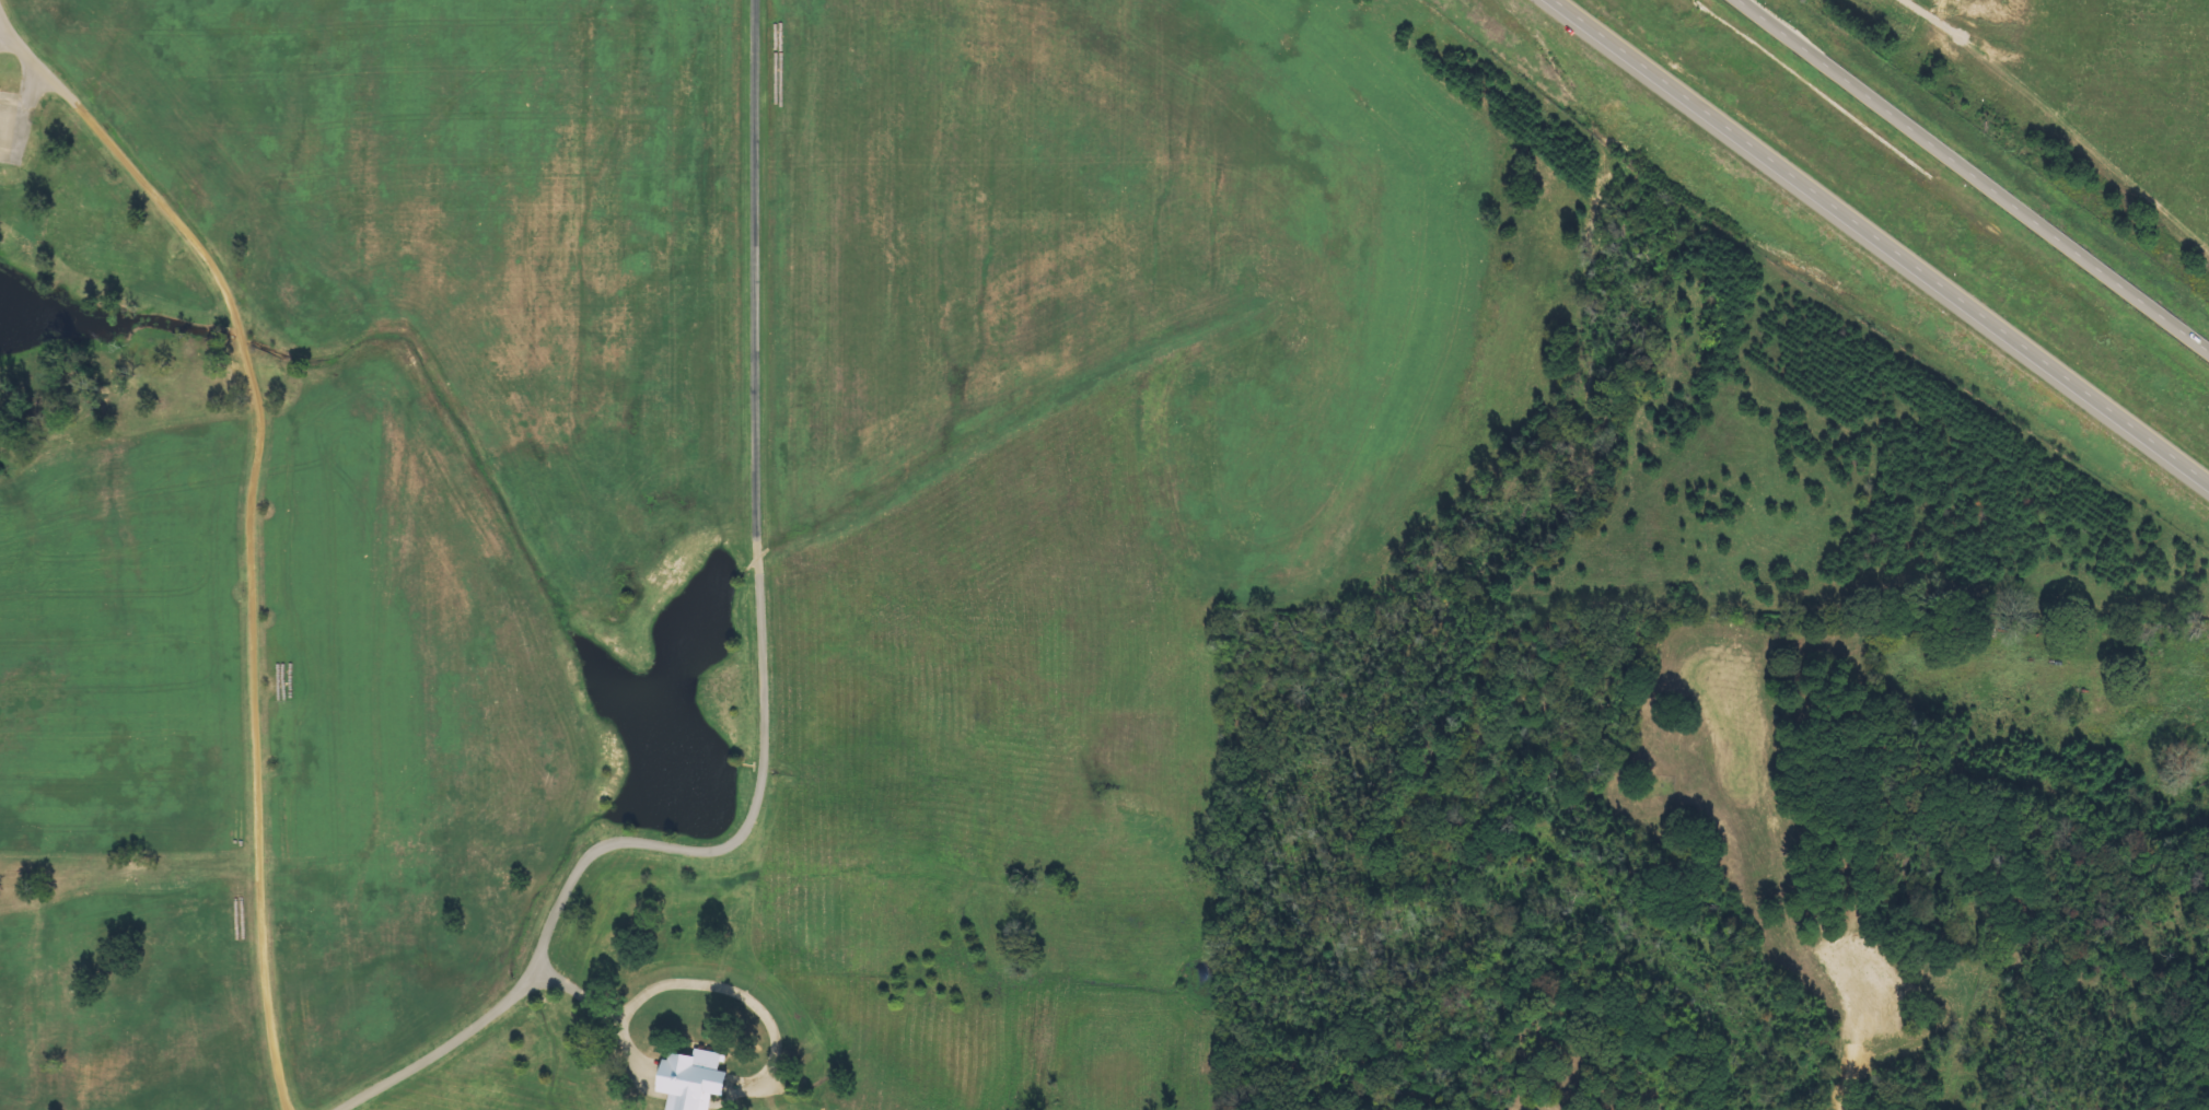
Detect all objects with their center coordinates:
road: (1970, 177)
road: (1883, 243)
road: (771, 687)
building: (693, 1080)

